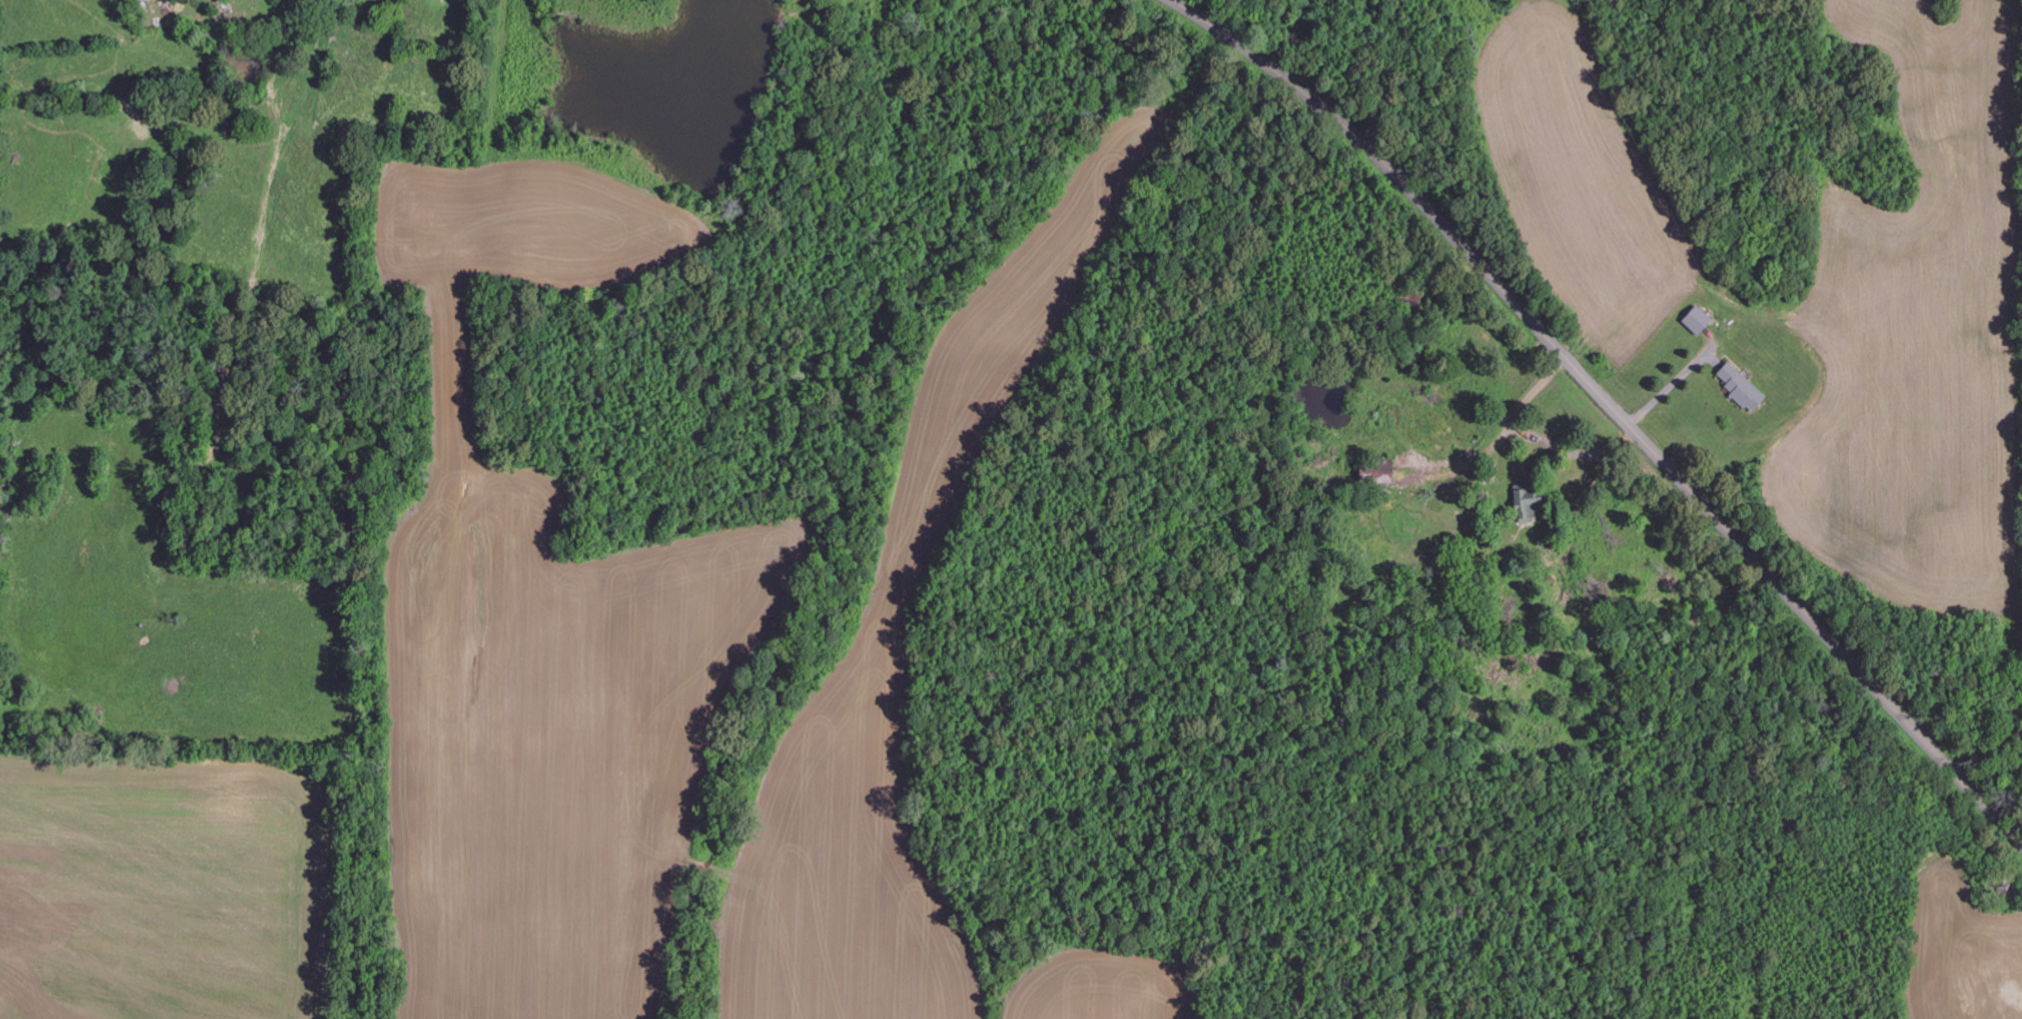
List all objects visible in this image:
building: (1695, 318)
road: (1670, 384)
building: (1738, 385)
road: (1608, 405)

